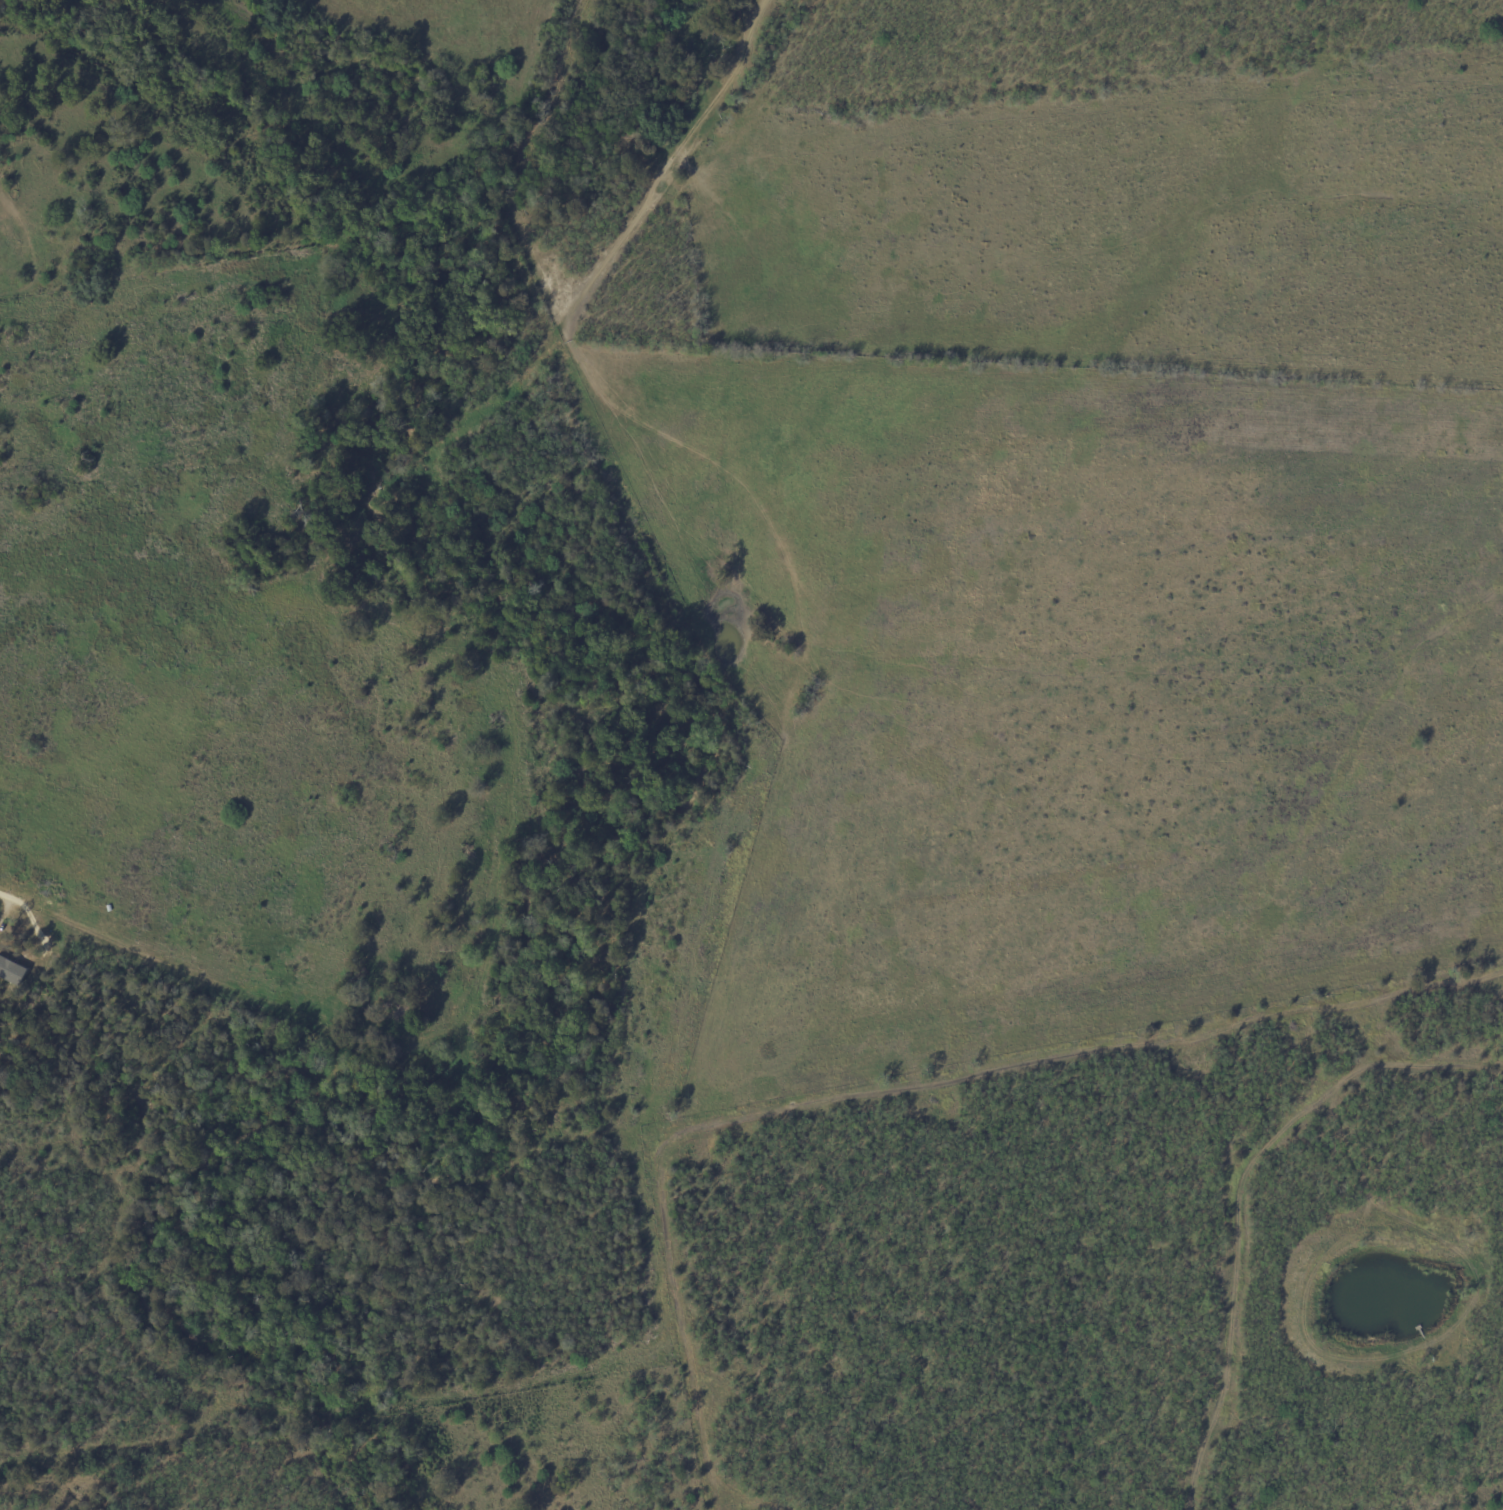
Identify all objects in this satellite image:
building: (12, 972)

